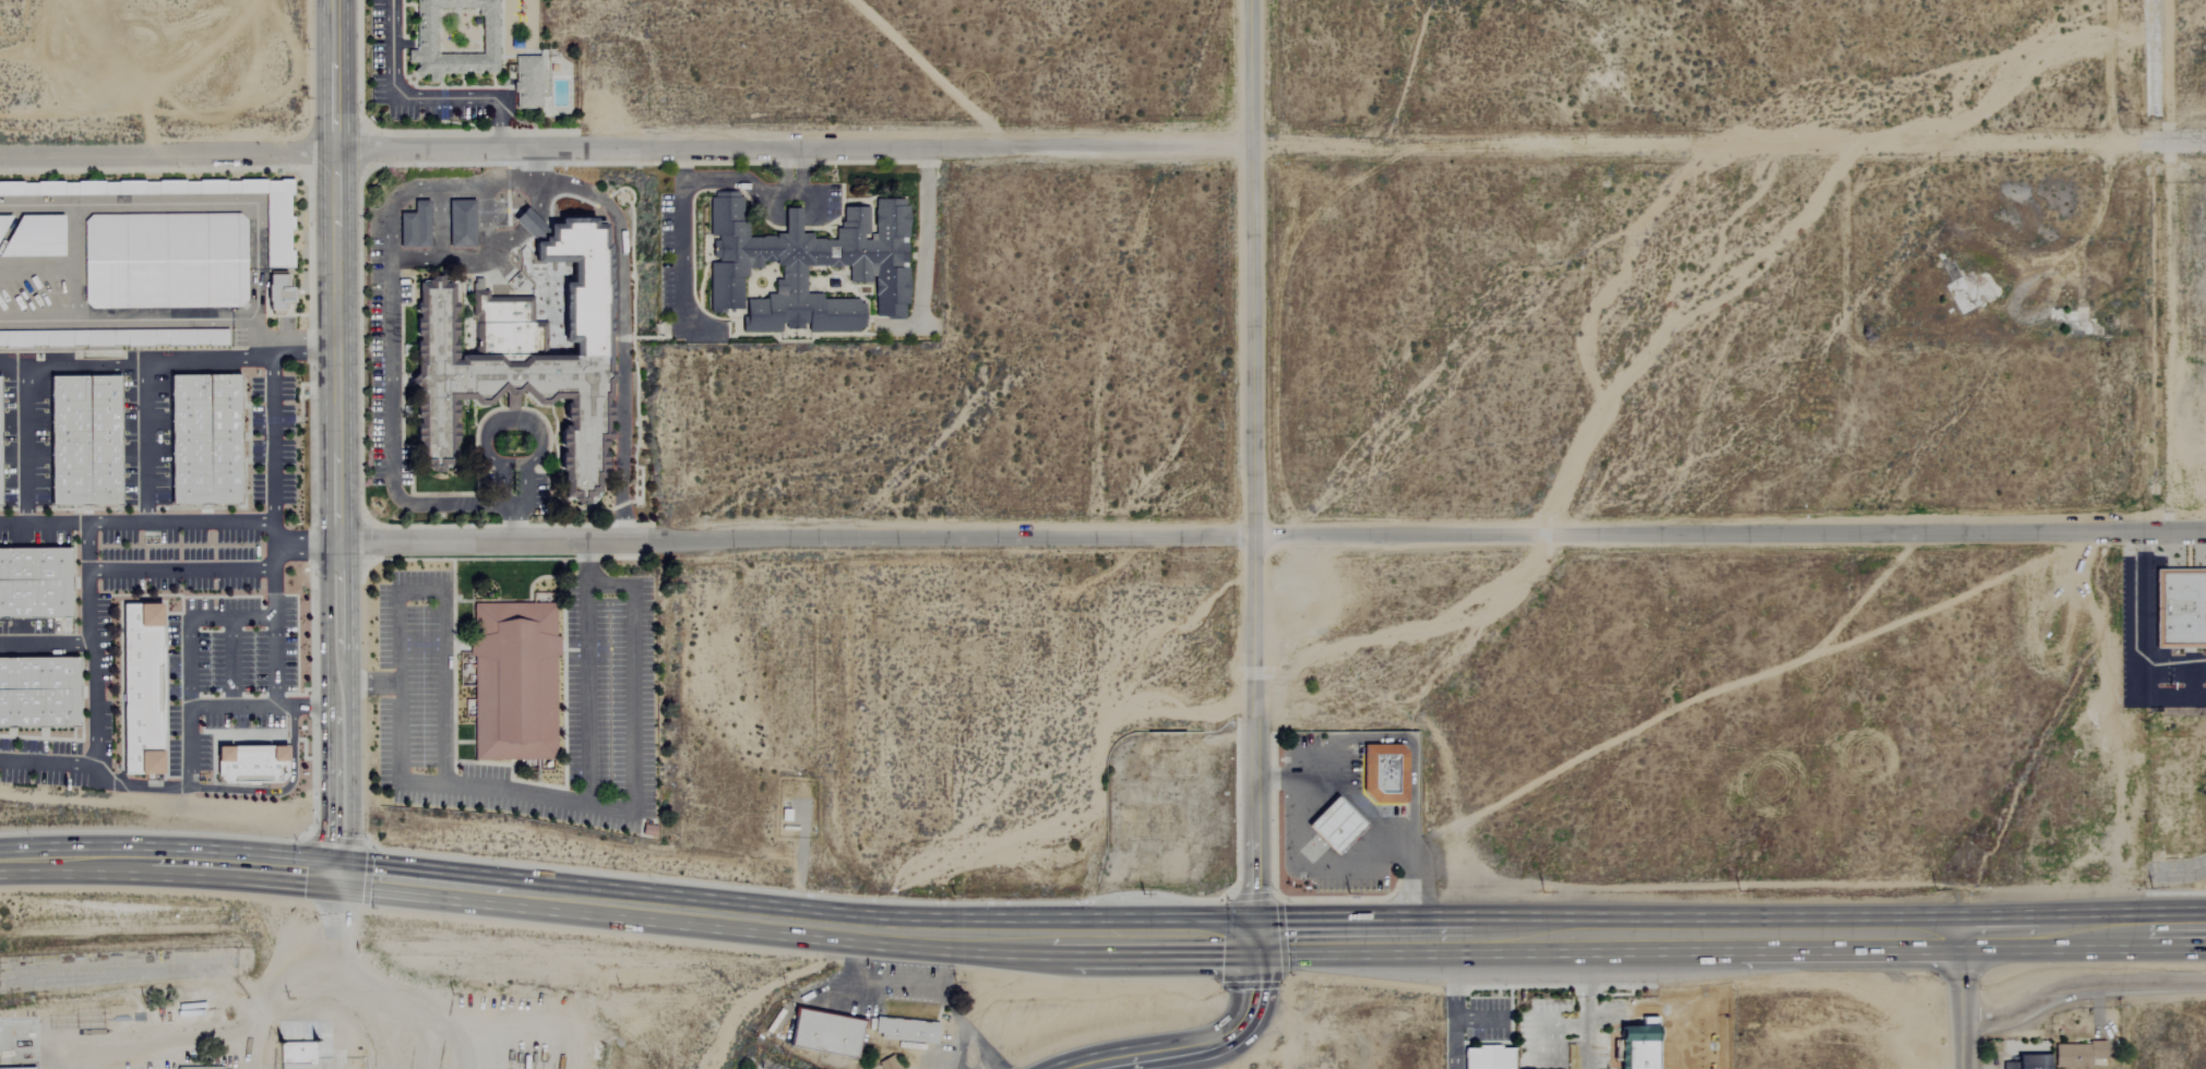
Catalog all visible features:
building: (452, 38)
road: (337, 74)
building: (525, 82)
road: (421, 98)
road: (1102, 143)
road: (518, 180)
road: (691, 182)
road: (187, 202)
building: (4, 223)
building: (279, 223)
building: (36, 237)
road: (468, 259)
building: (165, 260)
building: (808, 260)
road: (70, 262)
building: (278, 291)
road: (127, 320)
road: (623, 329)
building: (112, 337)
road: (293, 339)
road: (339, 344)
road: (71, 363)
building: (512, 364)
road: (389, 368)
road: (142, 379)
road: (515, 417)
building: (203, 439)
building: (84, 440)
road: (26, 444)
road: (274, 469)
road: (1253, 470)
road: (500, 479)
road: (518, 480)
road: (504, 497)
road: (513, 497)
road: (138, 524)
road: (1272, 533)
road: (87, 548)
road: (87, 577)
building: (35, 584)
building: (2180, 606)
road: (441, 622)
road: (2146, 639)
road: (46, 644)
road: (277, 648)
road: (188, 657)
road: (227, 659)
building: (513, 684)
building: (141, 688)
building: (38, 693)
road: (630, 699)
road: (232, 705)
road: (329, 706)
road: (348, 707)
building: (250, 764)
road: (49, 768)
building: (1385, 773)
road: (234, 790)
road: (550, 797)
road: (1373, 822)
gas station: (1336, 824)
building: (1333, 826)
road: (2178, 866)
traffic signals: (339, 877)
road: (628, 906)
road: (1731, 938)
traffic signals: (1257, 940)
road: (919, 985)
road: (2084, 988)
road: (317, 989)
road: (1967, 1002)
road: (1450, 1004)
road: (1588, 1004)
road: (417, 1016)
road: (1475, 1020)
building: (904, 1030)
building: (822, 1032)
road: (1205, 1045)
building: (2076, 1054)
building: (294, 1056)
building: (1487, 1057)
building: (2027, 1062)
building: (885, 1064)
building: (195, 1067)

